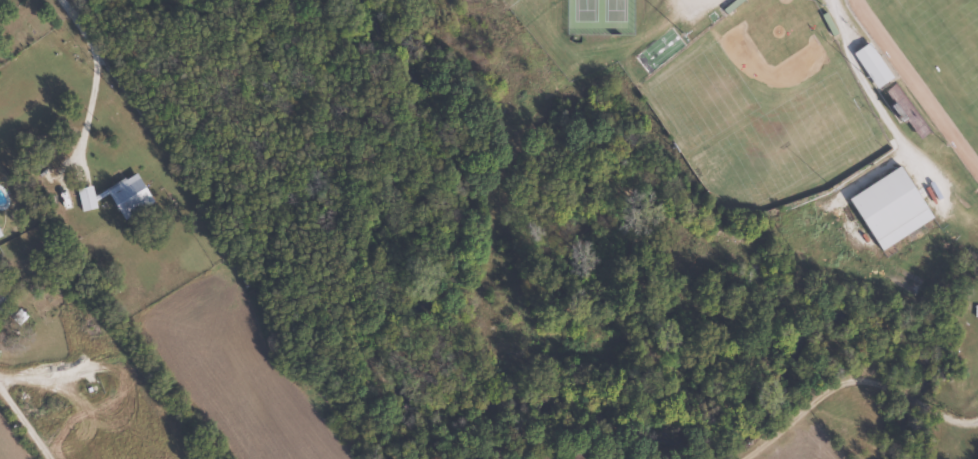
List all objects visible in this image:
road: (76, 22)
building: (874, 70)
building: (127, 196)
building: (85, 198)
building: (869, 198)
building: (902, 279)
building: (2, 299)
building: (19, 318)
river: (476, 412)
road: (23, 424)

